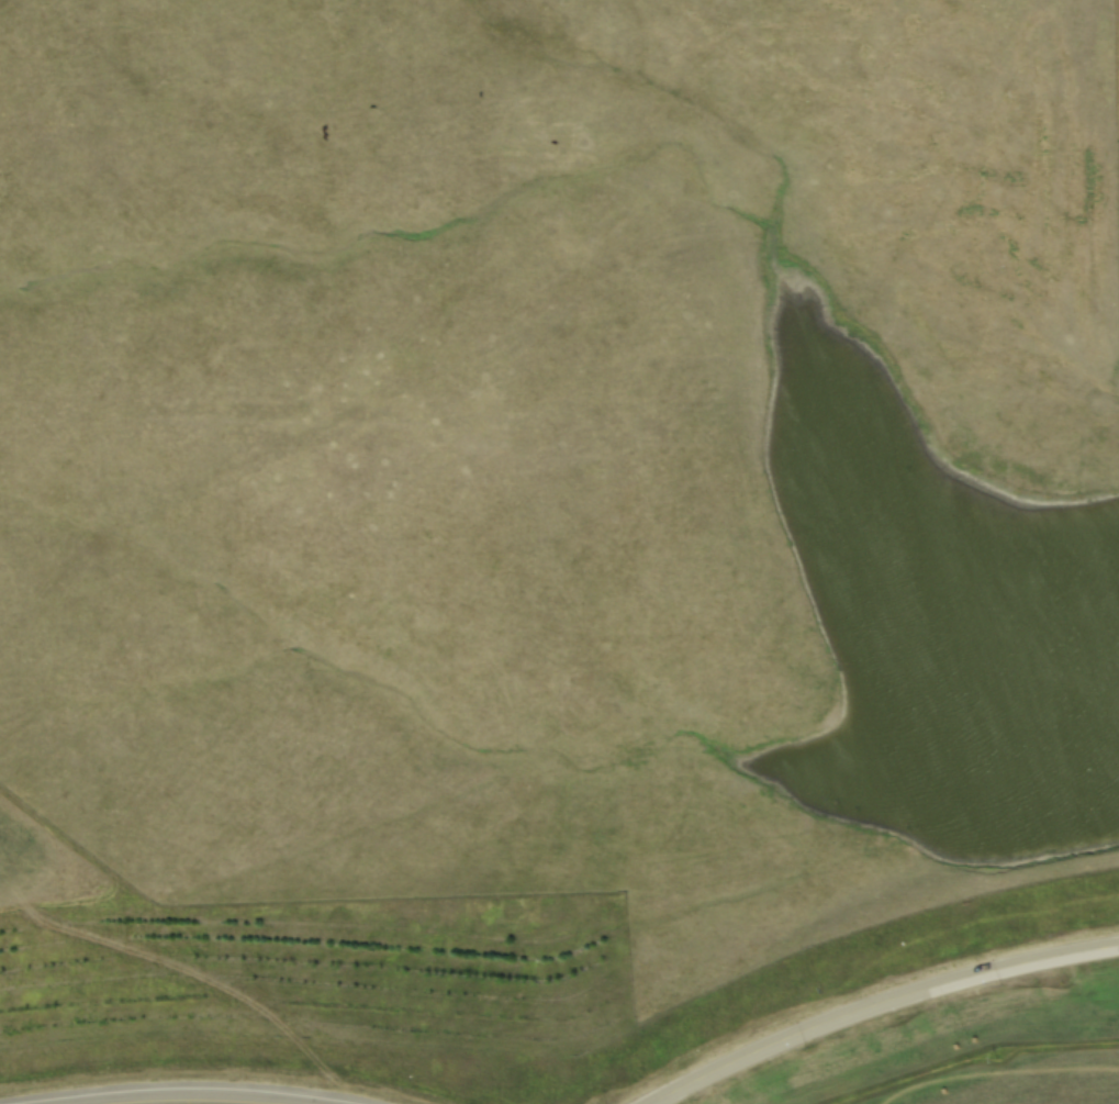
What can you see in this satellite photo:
road: (877, 1004)
road: (180, 1094)

